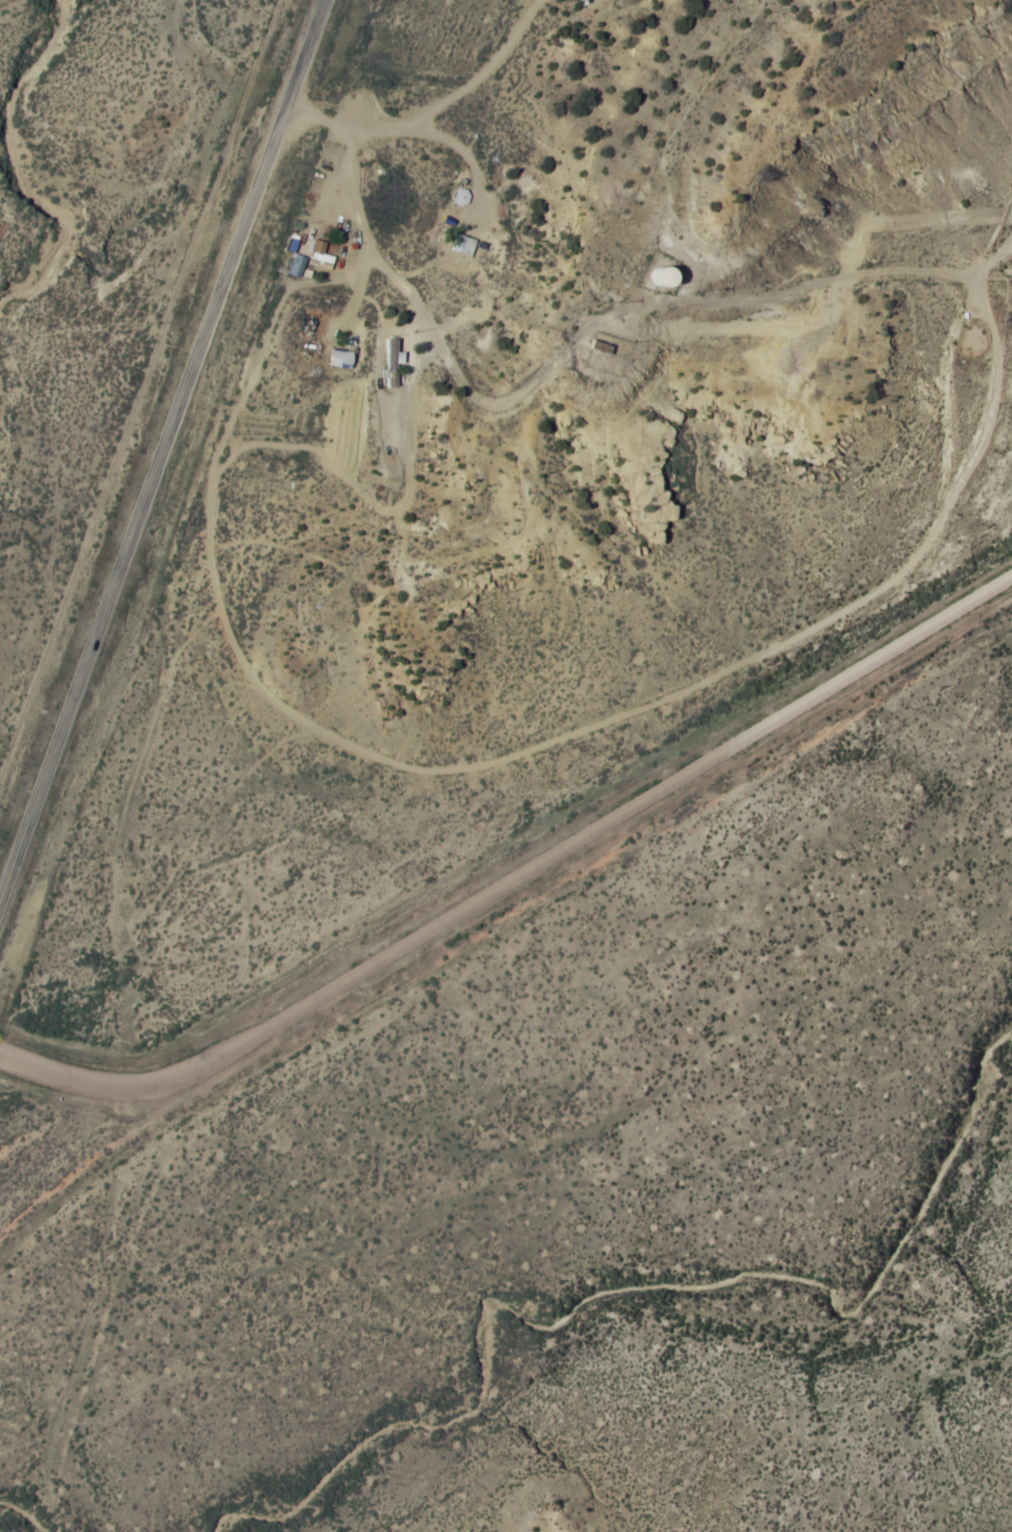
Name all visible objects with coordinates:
building: (462, 197)
building: (465, 246)
building: (298, 267)
building: (601, 348)
building: (392, 355)
building: (342, 360)
road: (164, 451)
road: (579, 736)
road: (517, 882)

